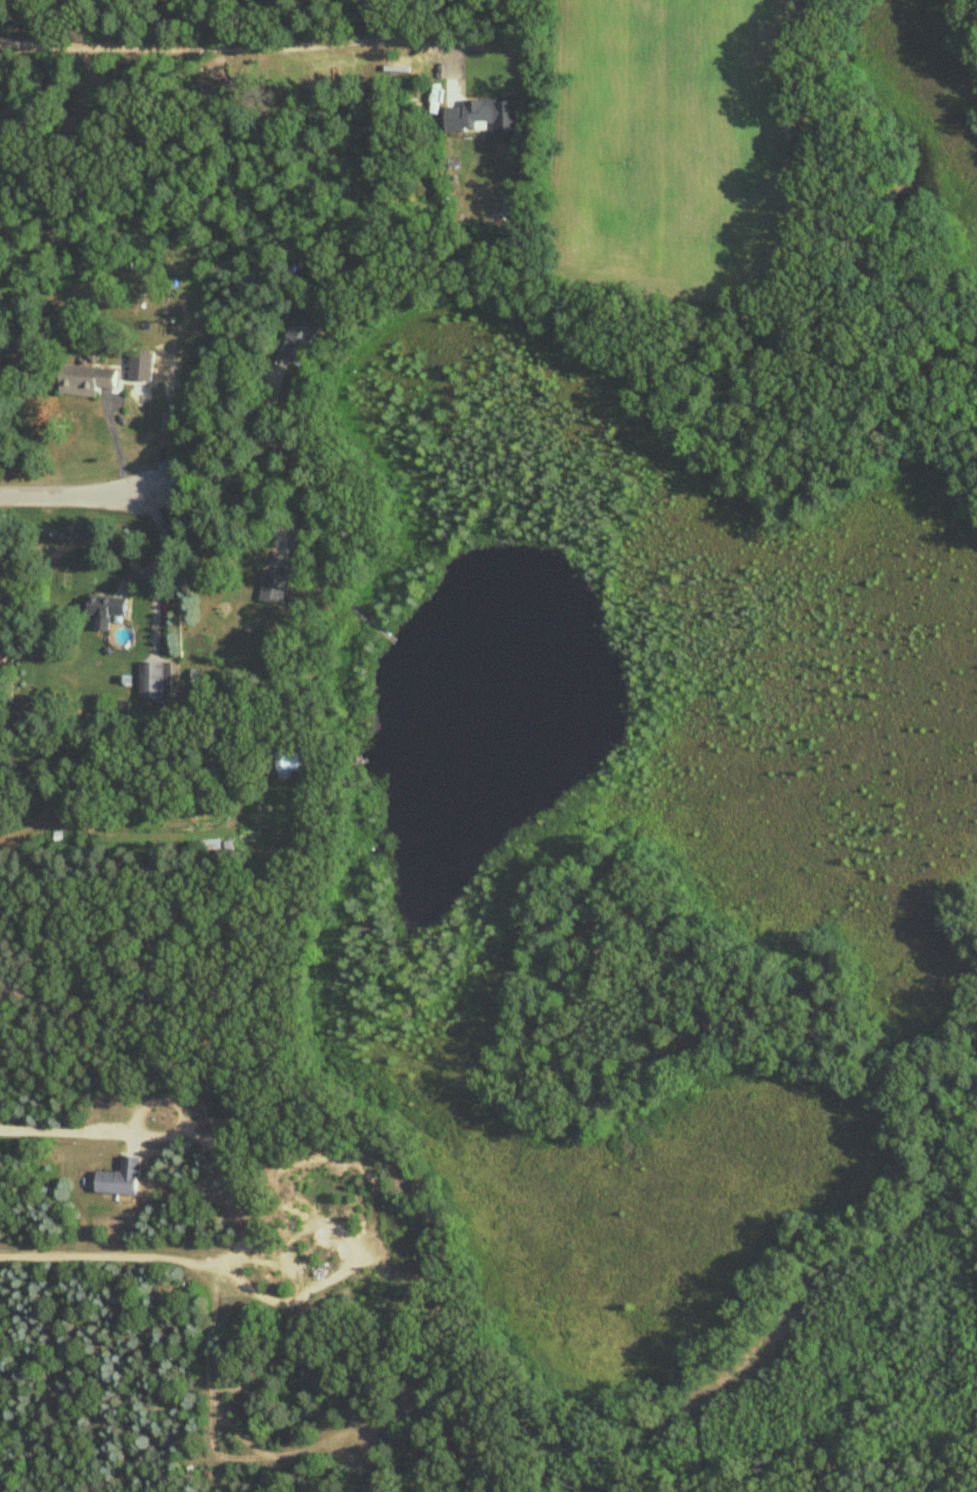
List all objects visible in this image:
road: (245, 49)
building: (480, 117)
building: (305, 334)
building: (142, 359)
building: (88, 382)
road: (113, 450)
road: (73, 491)
road: (151, 536)
building: (275, 588)
building: (108, 612)
building: (155, 681)
road: (101, 742)
building: (292, 763)
building: (59, 840)
building: (210, 845)
road: (146, 1104)
road: (71, 1126)
building: (120, 1181)
road: (199, 1264)

